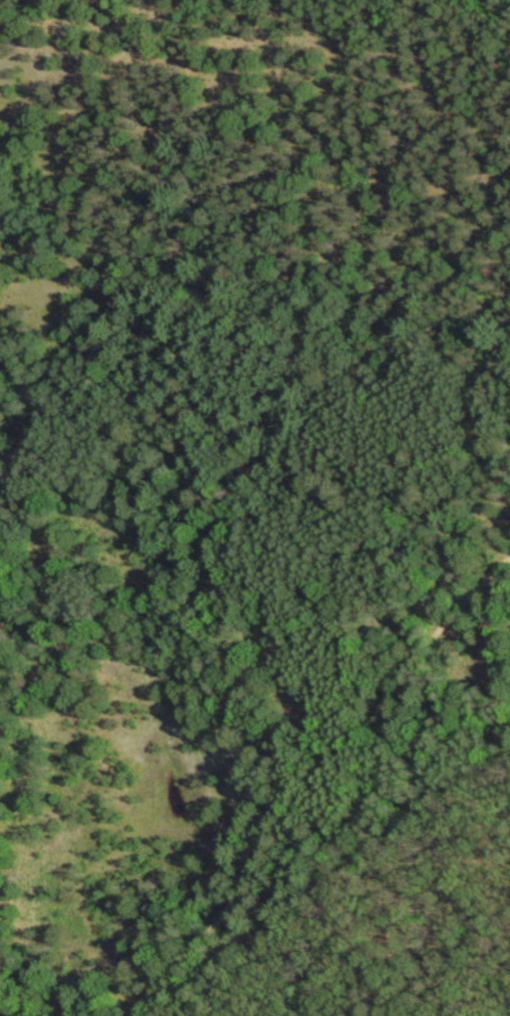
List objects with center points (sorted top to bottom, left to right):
road: (321, 783)

